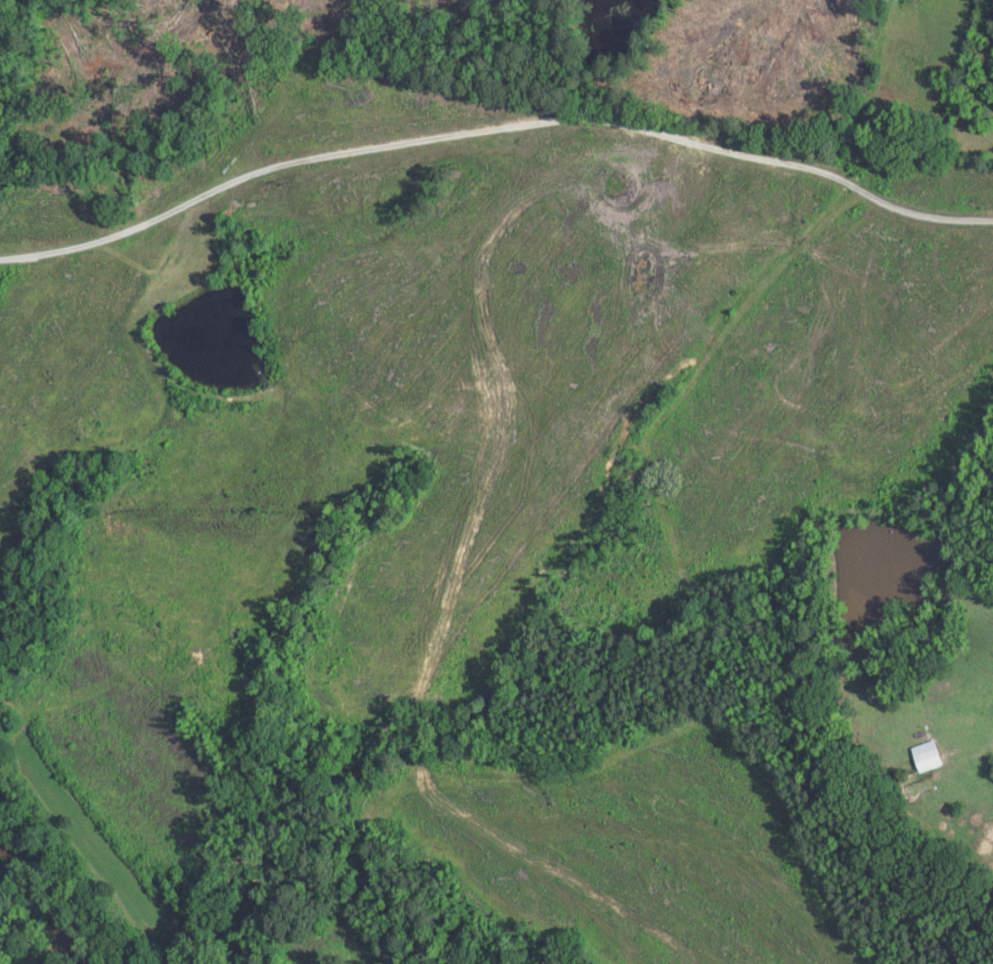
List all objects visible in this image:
road: (494, 122)
building: (917, 761)

